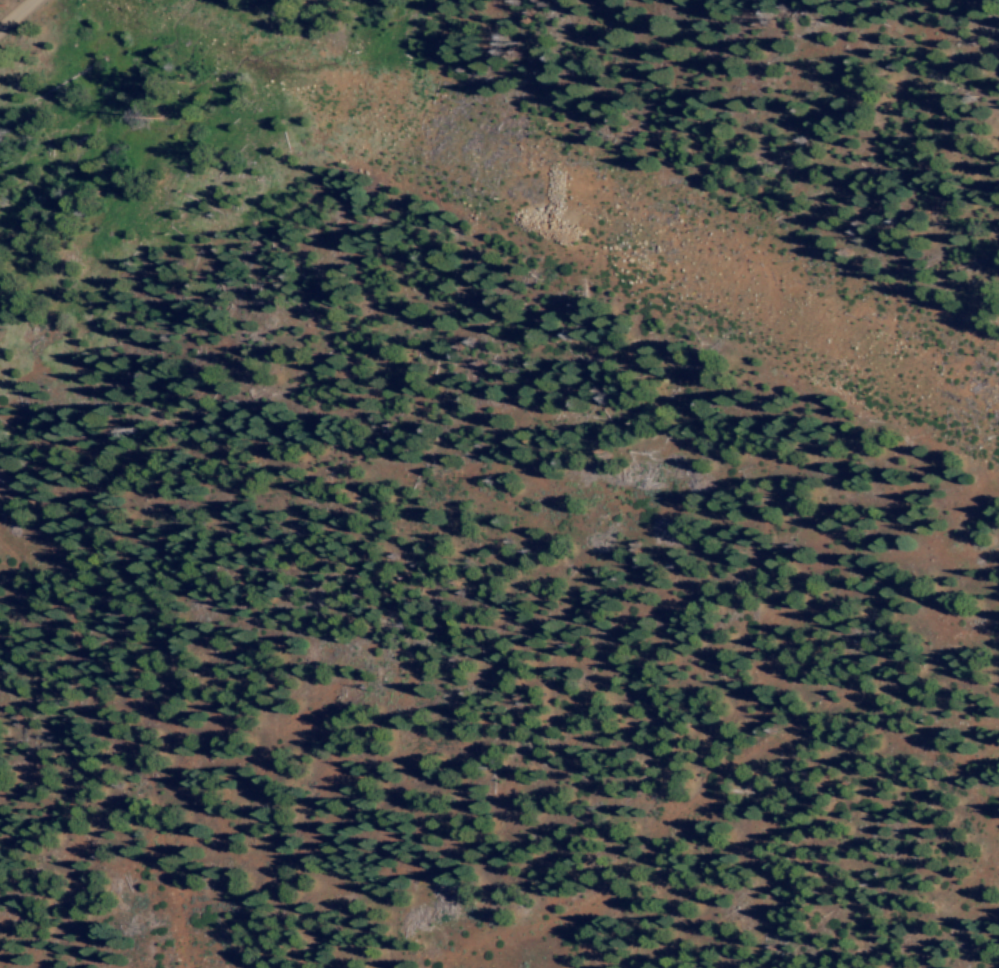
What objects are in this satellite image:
road: (10, 10)

